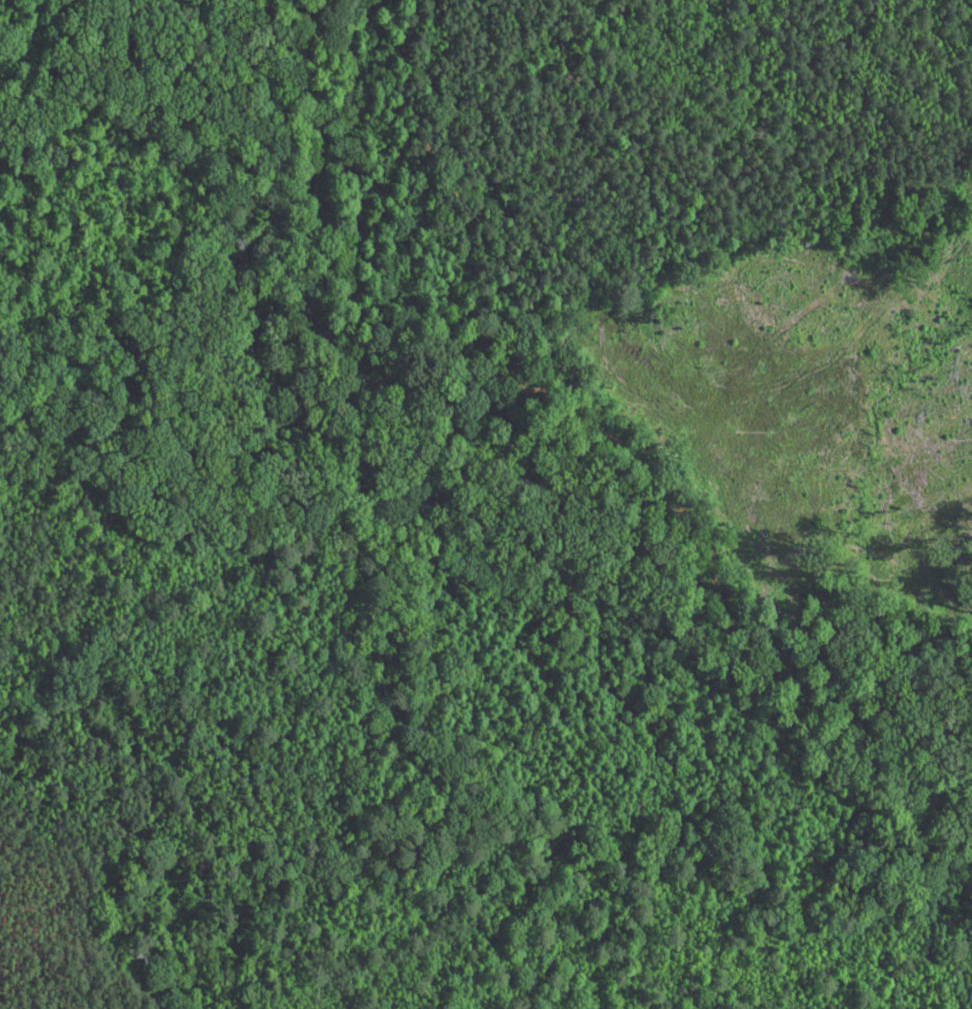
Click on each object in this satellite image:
road: (948, 208)

